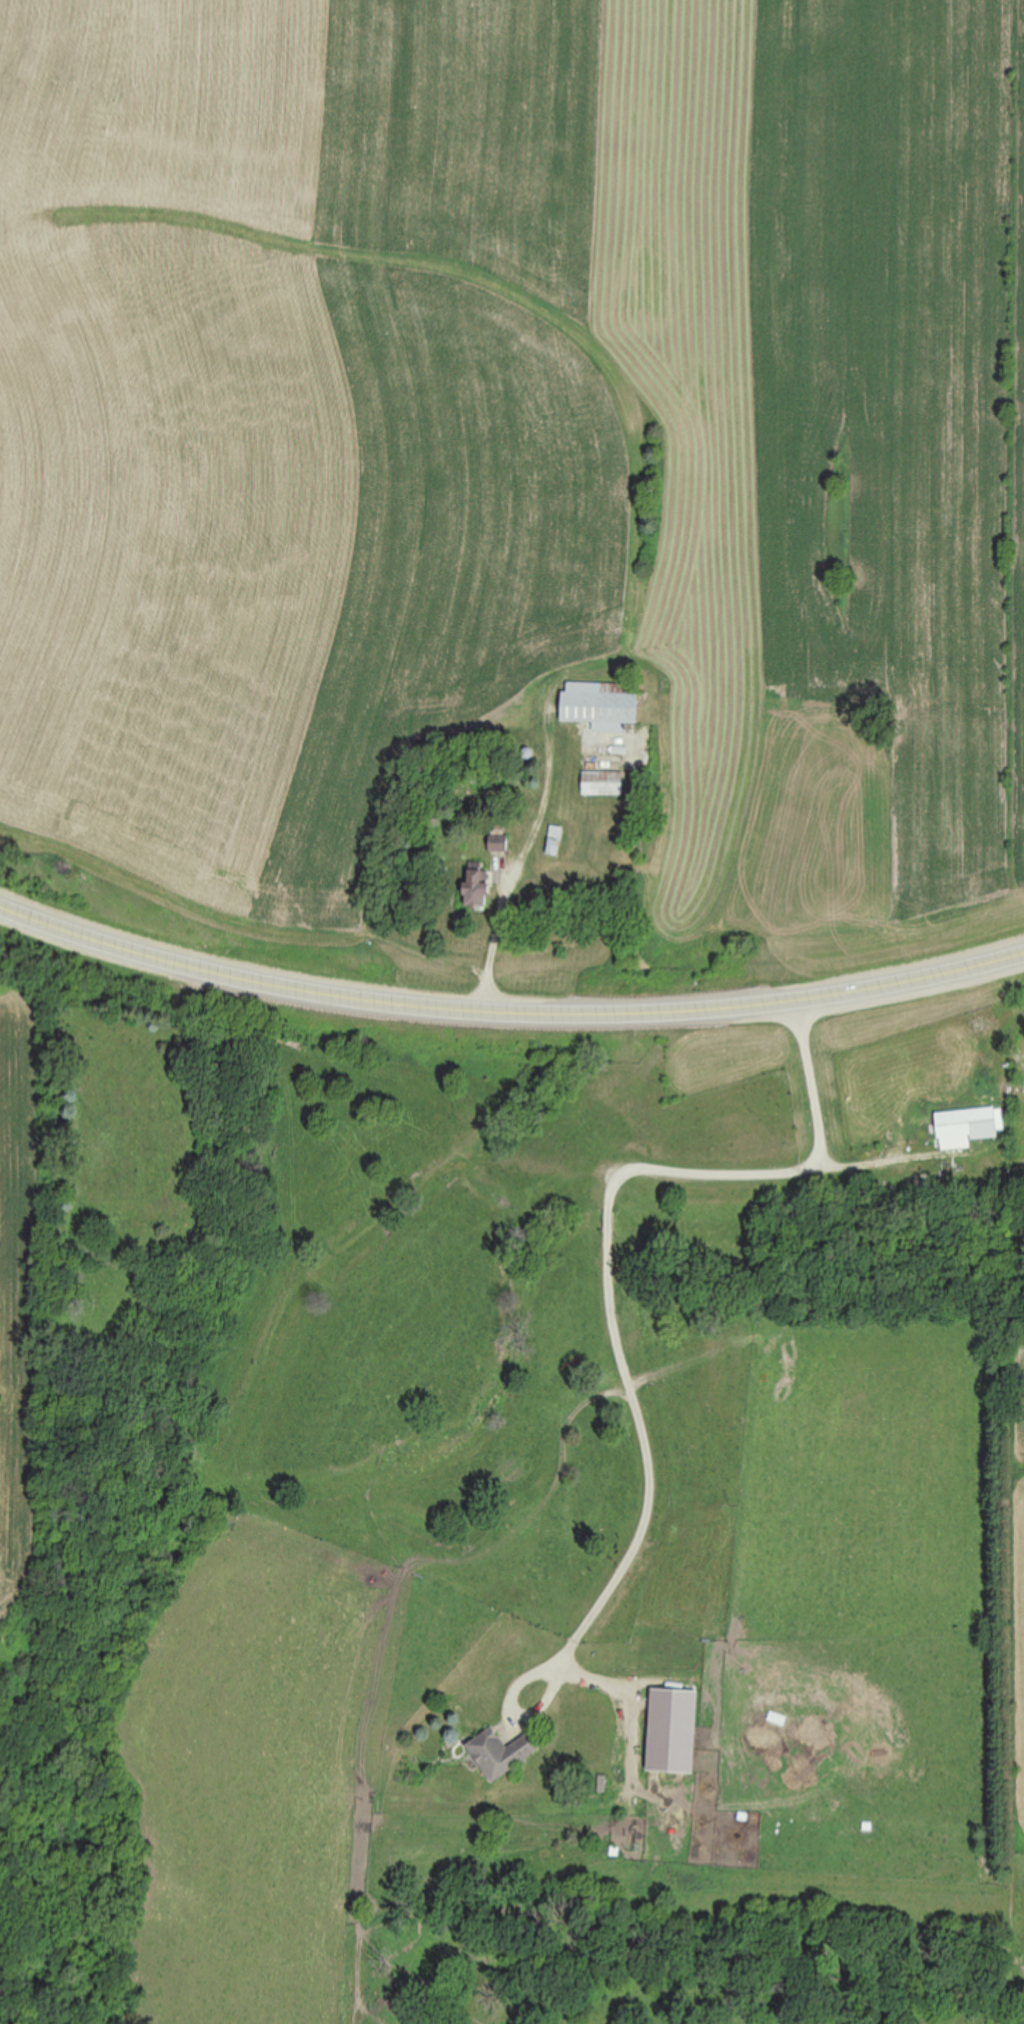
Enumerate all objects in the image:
building: (600, 707)
building: (603, 784)
building: (555, 842)
building: (476, 894)
road: (489, 954)
road: (507, 1015)
building: (967, 1127)
road: (610, 1254)
building: (500, 1754)

